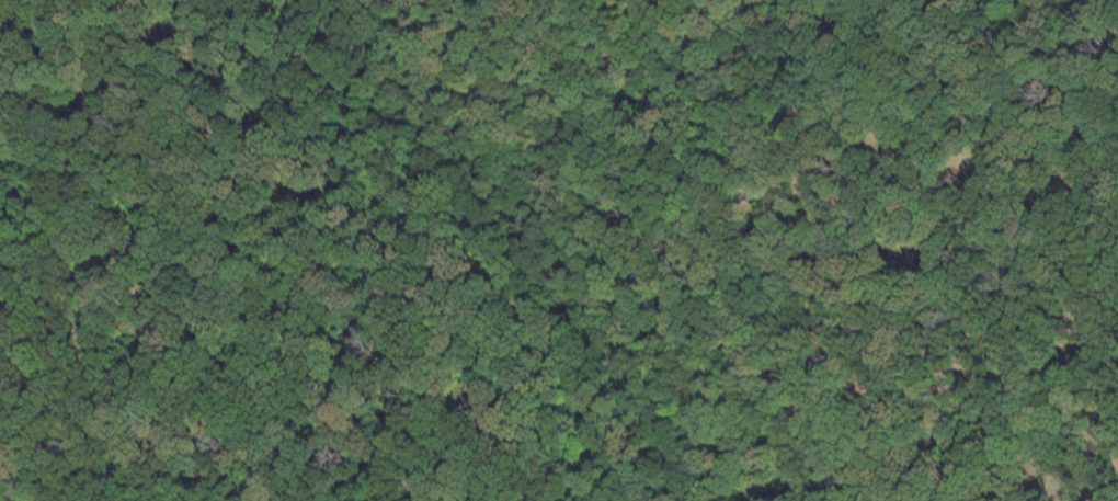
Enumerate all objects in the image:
road: (52, 387)

